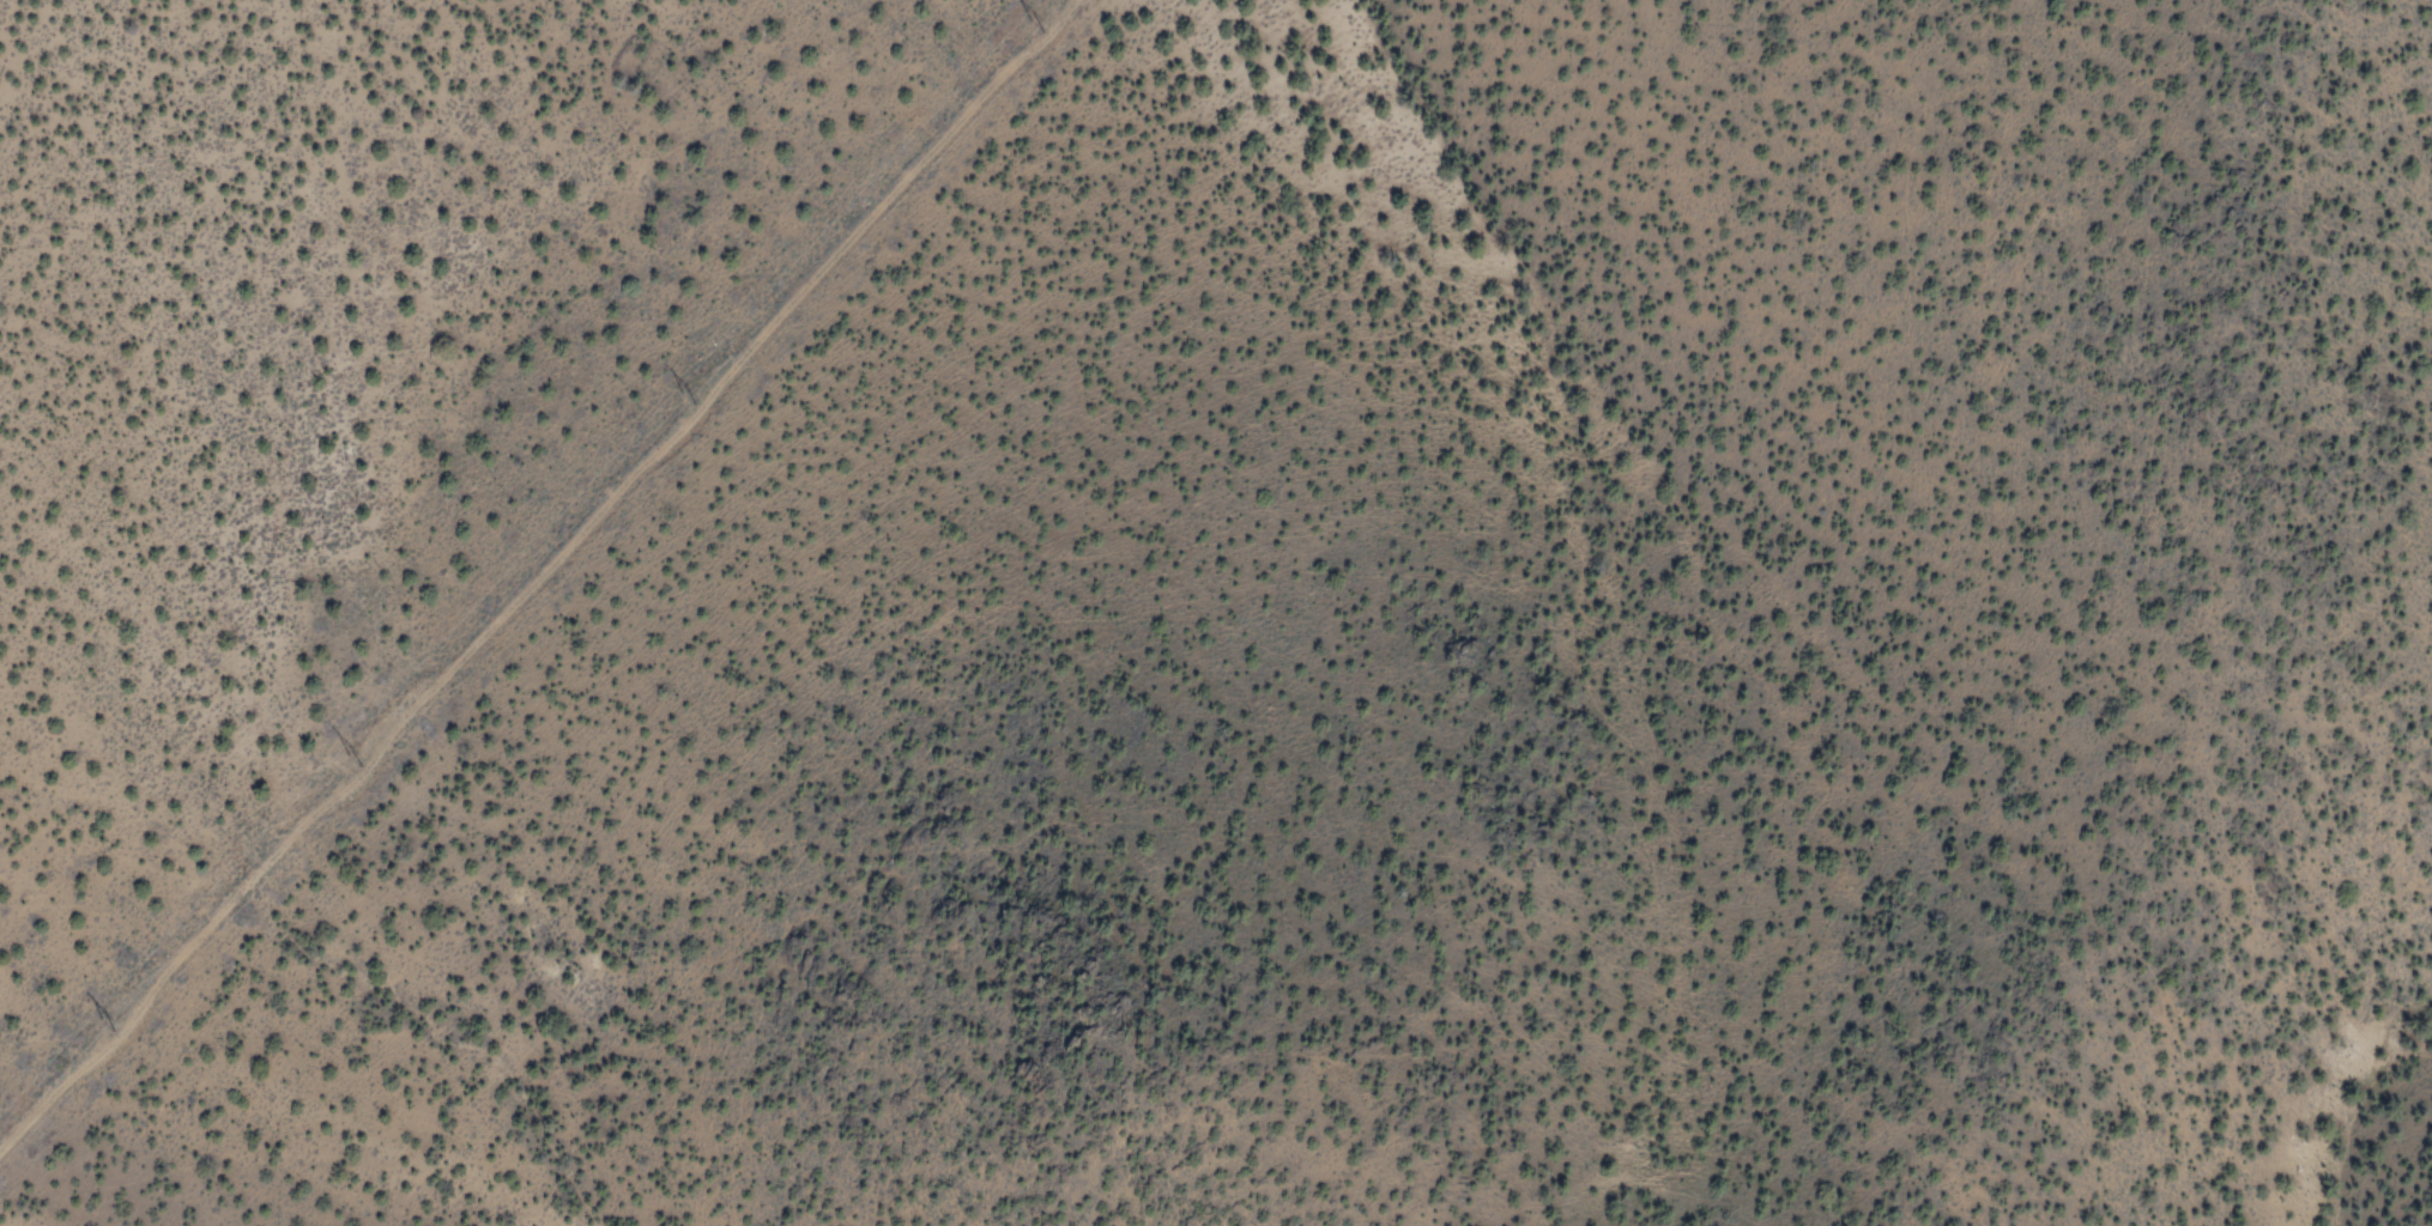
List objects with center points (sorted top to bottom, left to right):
power tower: (1039, 29)
power tower: (691, 403)
road: (370, 708)
power tower: (351, 761)
power tower: (108, 1027)

